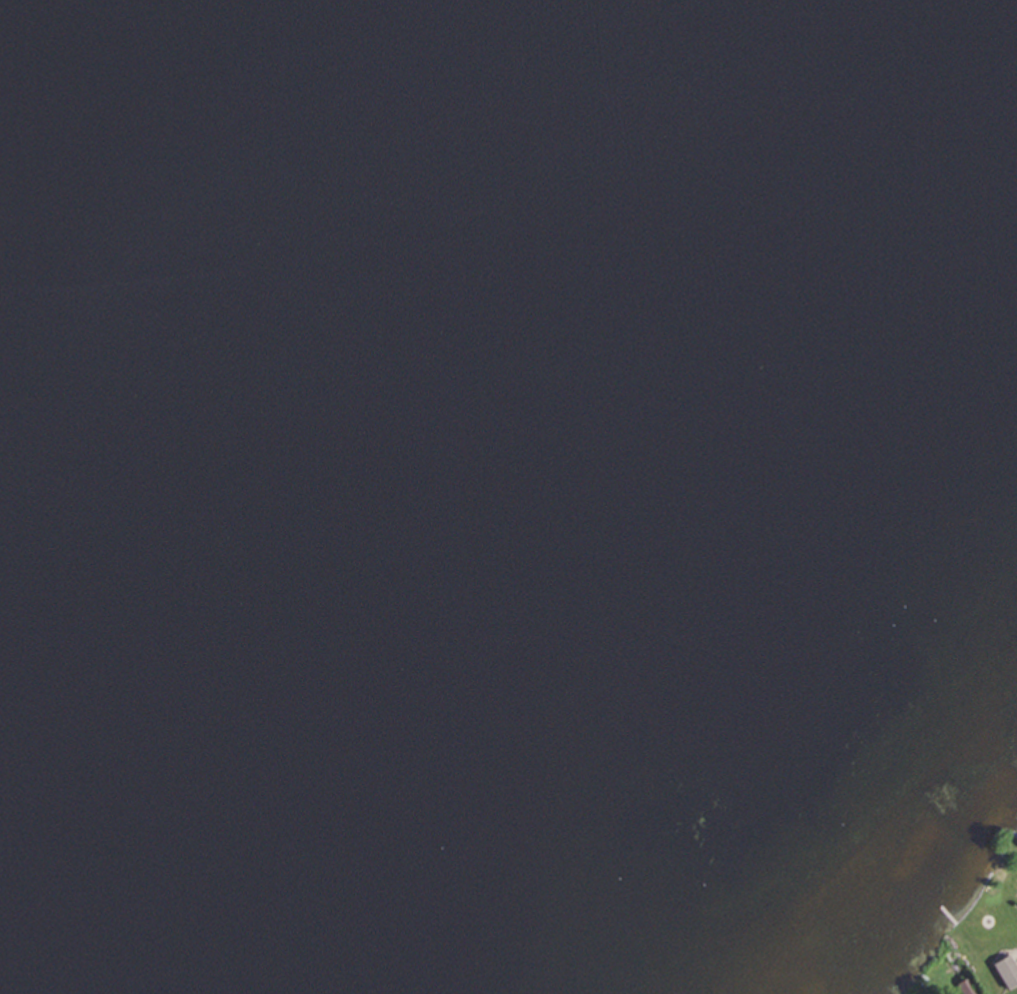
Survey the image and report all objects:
building: (1008, 971)

